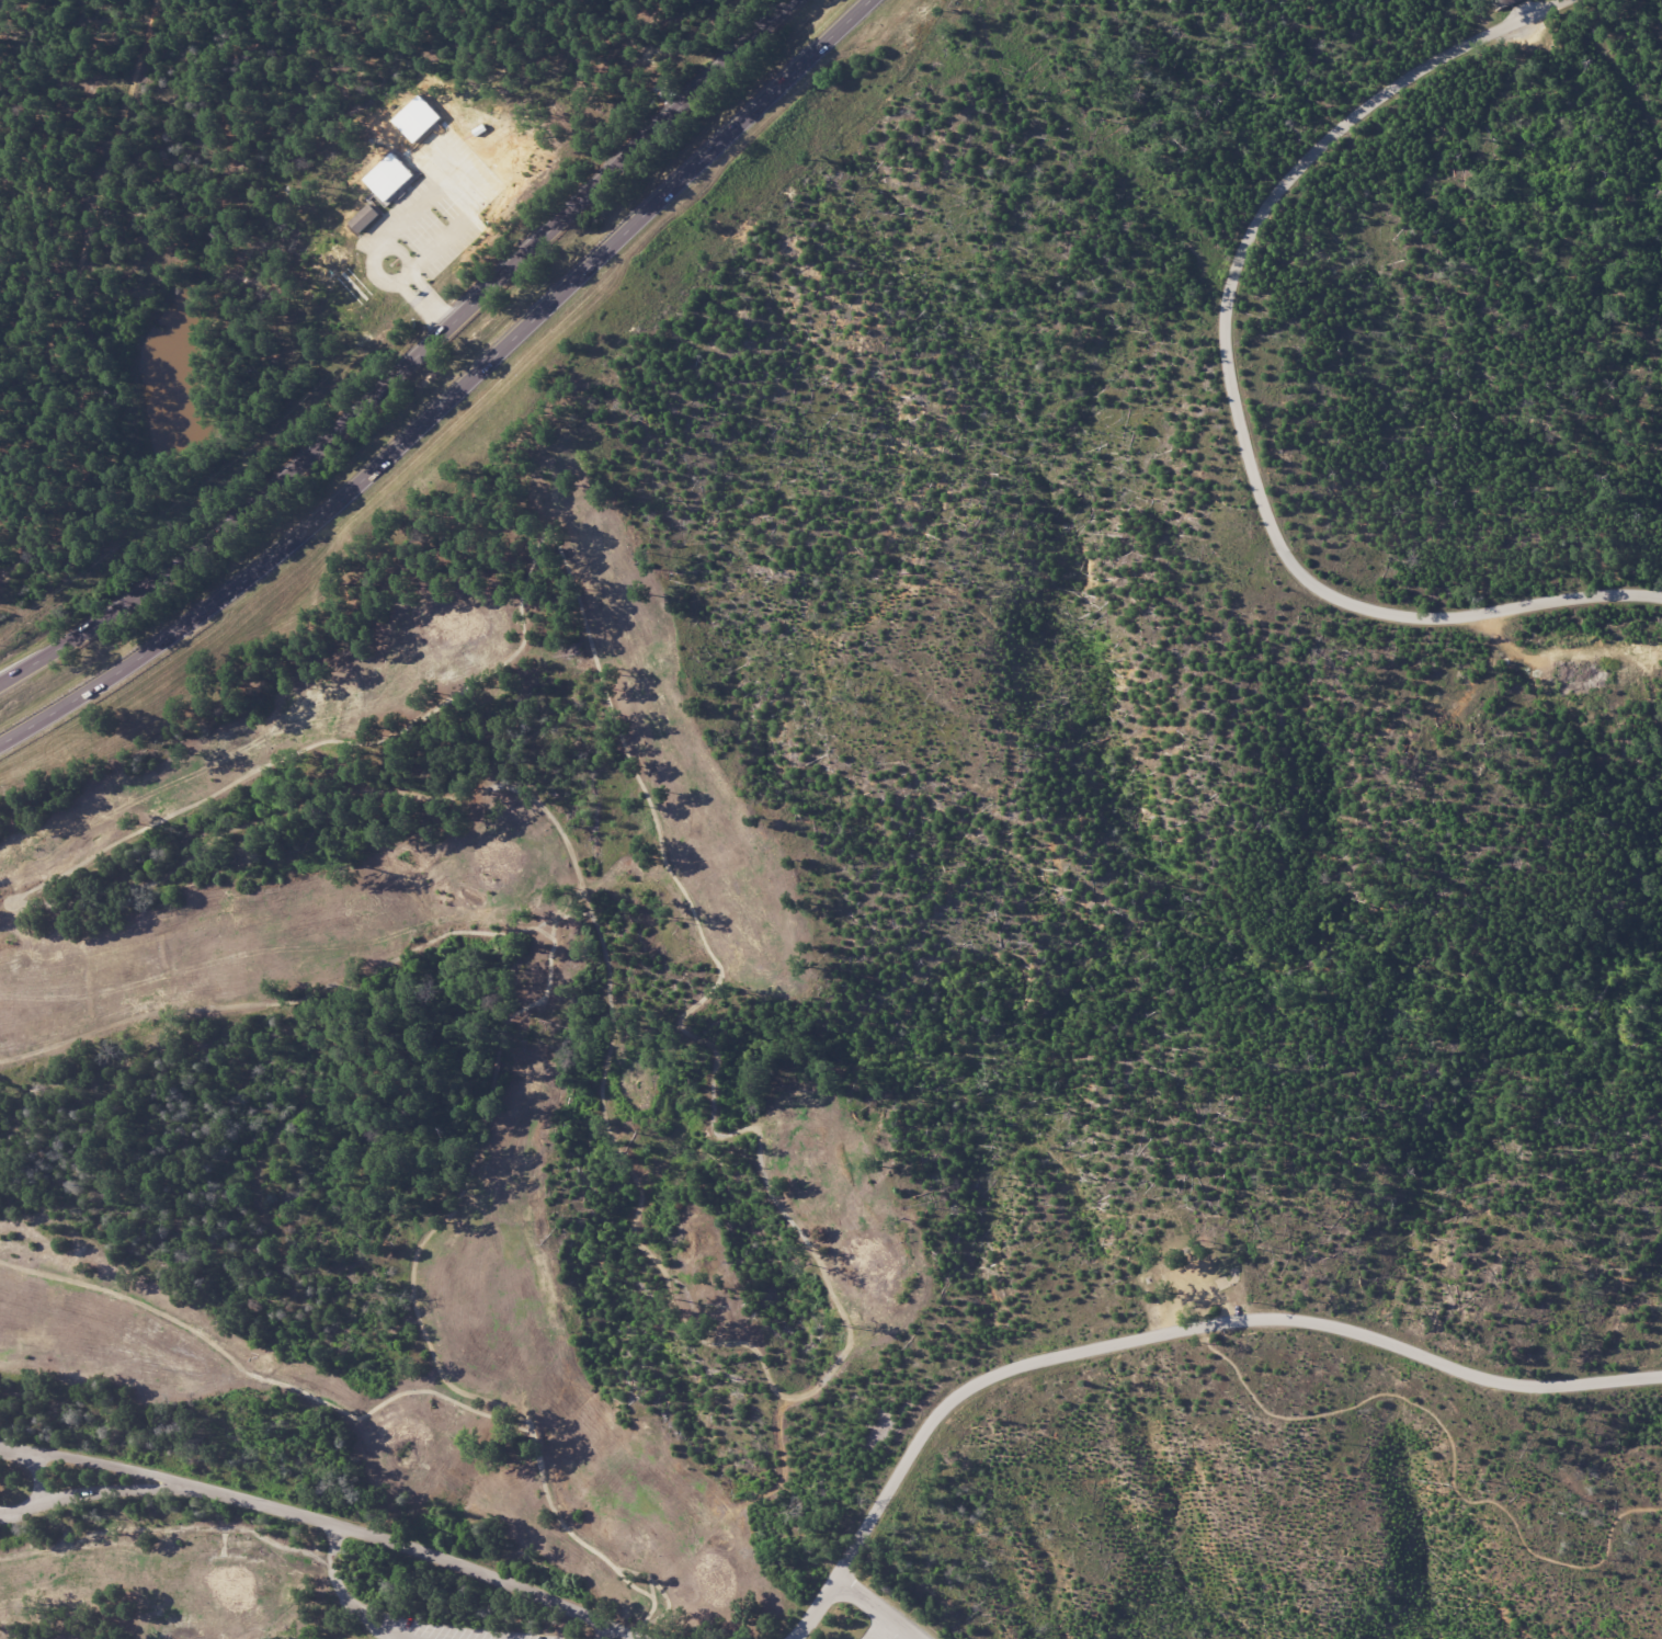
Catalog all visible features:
building: (1507, 3)
road: (719, 68)
road: (777, 87)
building: (417, 118)
building: (388, 177)
building: (363, 218)
road: (1231, 392)
road: (339, 429)
road: (356, 475)
park: (1217, 803)
park: (425, 1122)
road: (1161, 1330)
road: (1447, 1438)
road: (100, 1466)
road: (37, 1481)
road: (99, 1493)
road: (423, 1552)
road: (348, 1598)
road: (870, 1607)
parking lot: (880, 1630)
road: (604, 1632)

